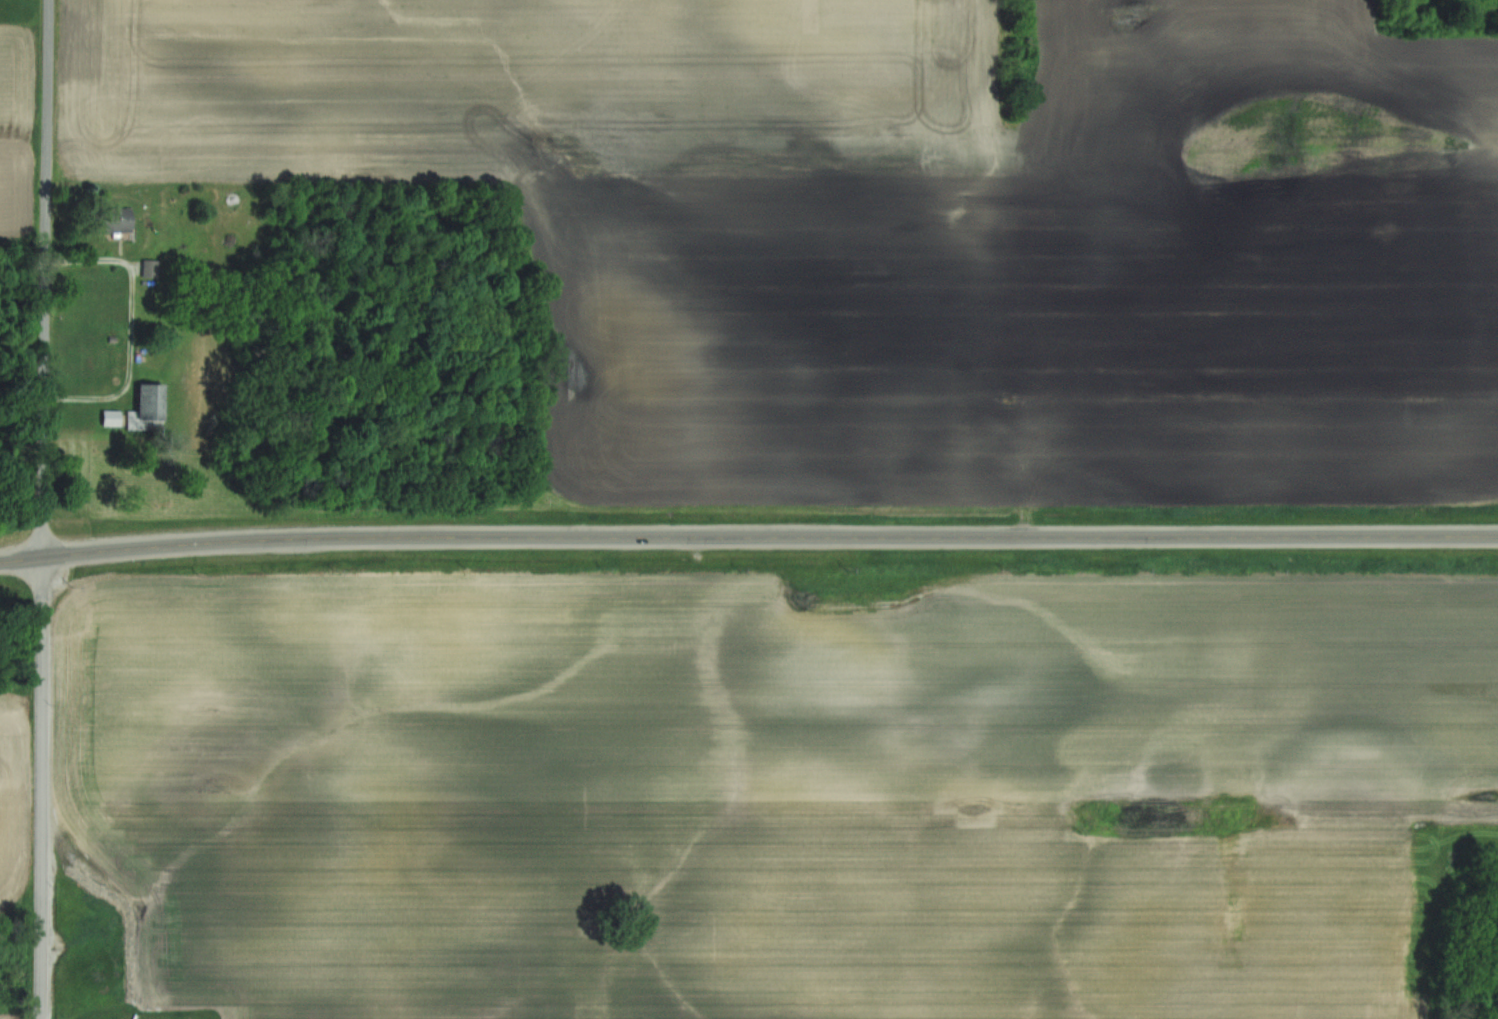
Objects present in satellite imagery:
building: (116, 221)
road: (47, 279)
road: (131, 324)
building: (152, 403)
building: (113, 419)
road: (748, 536)
road: (42, 788)

